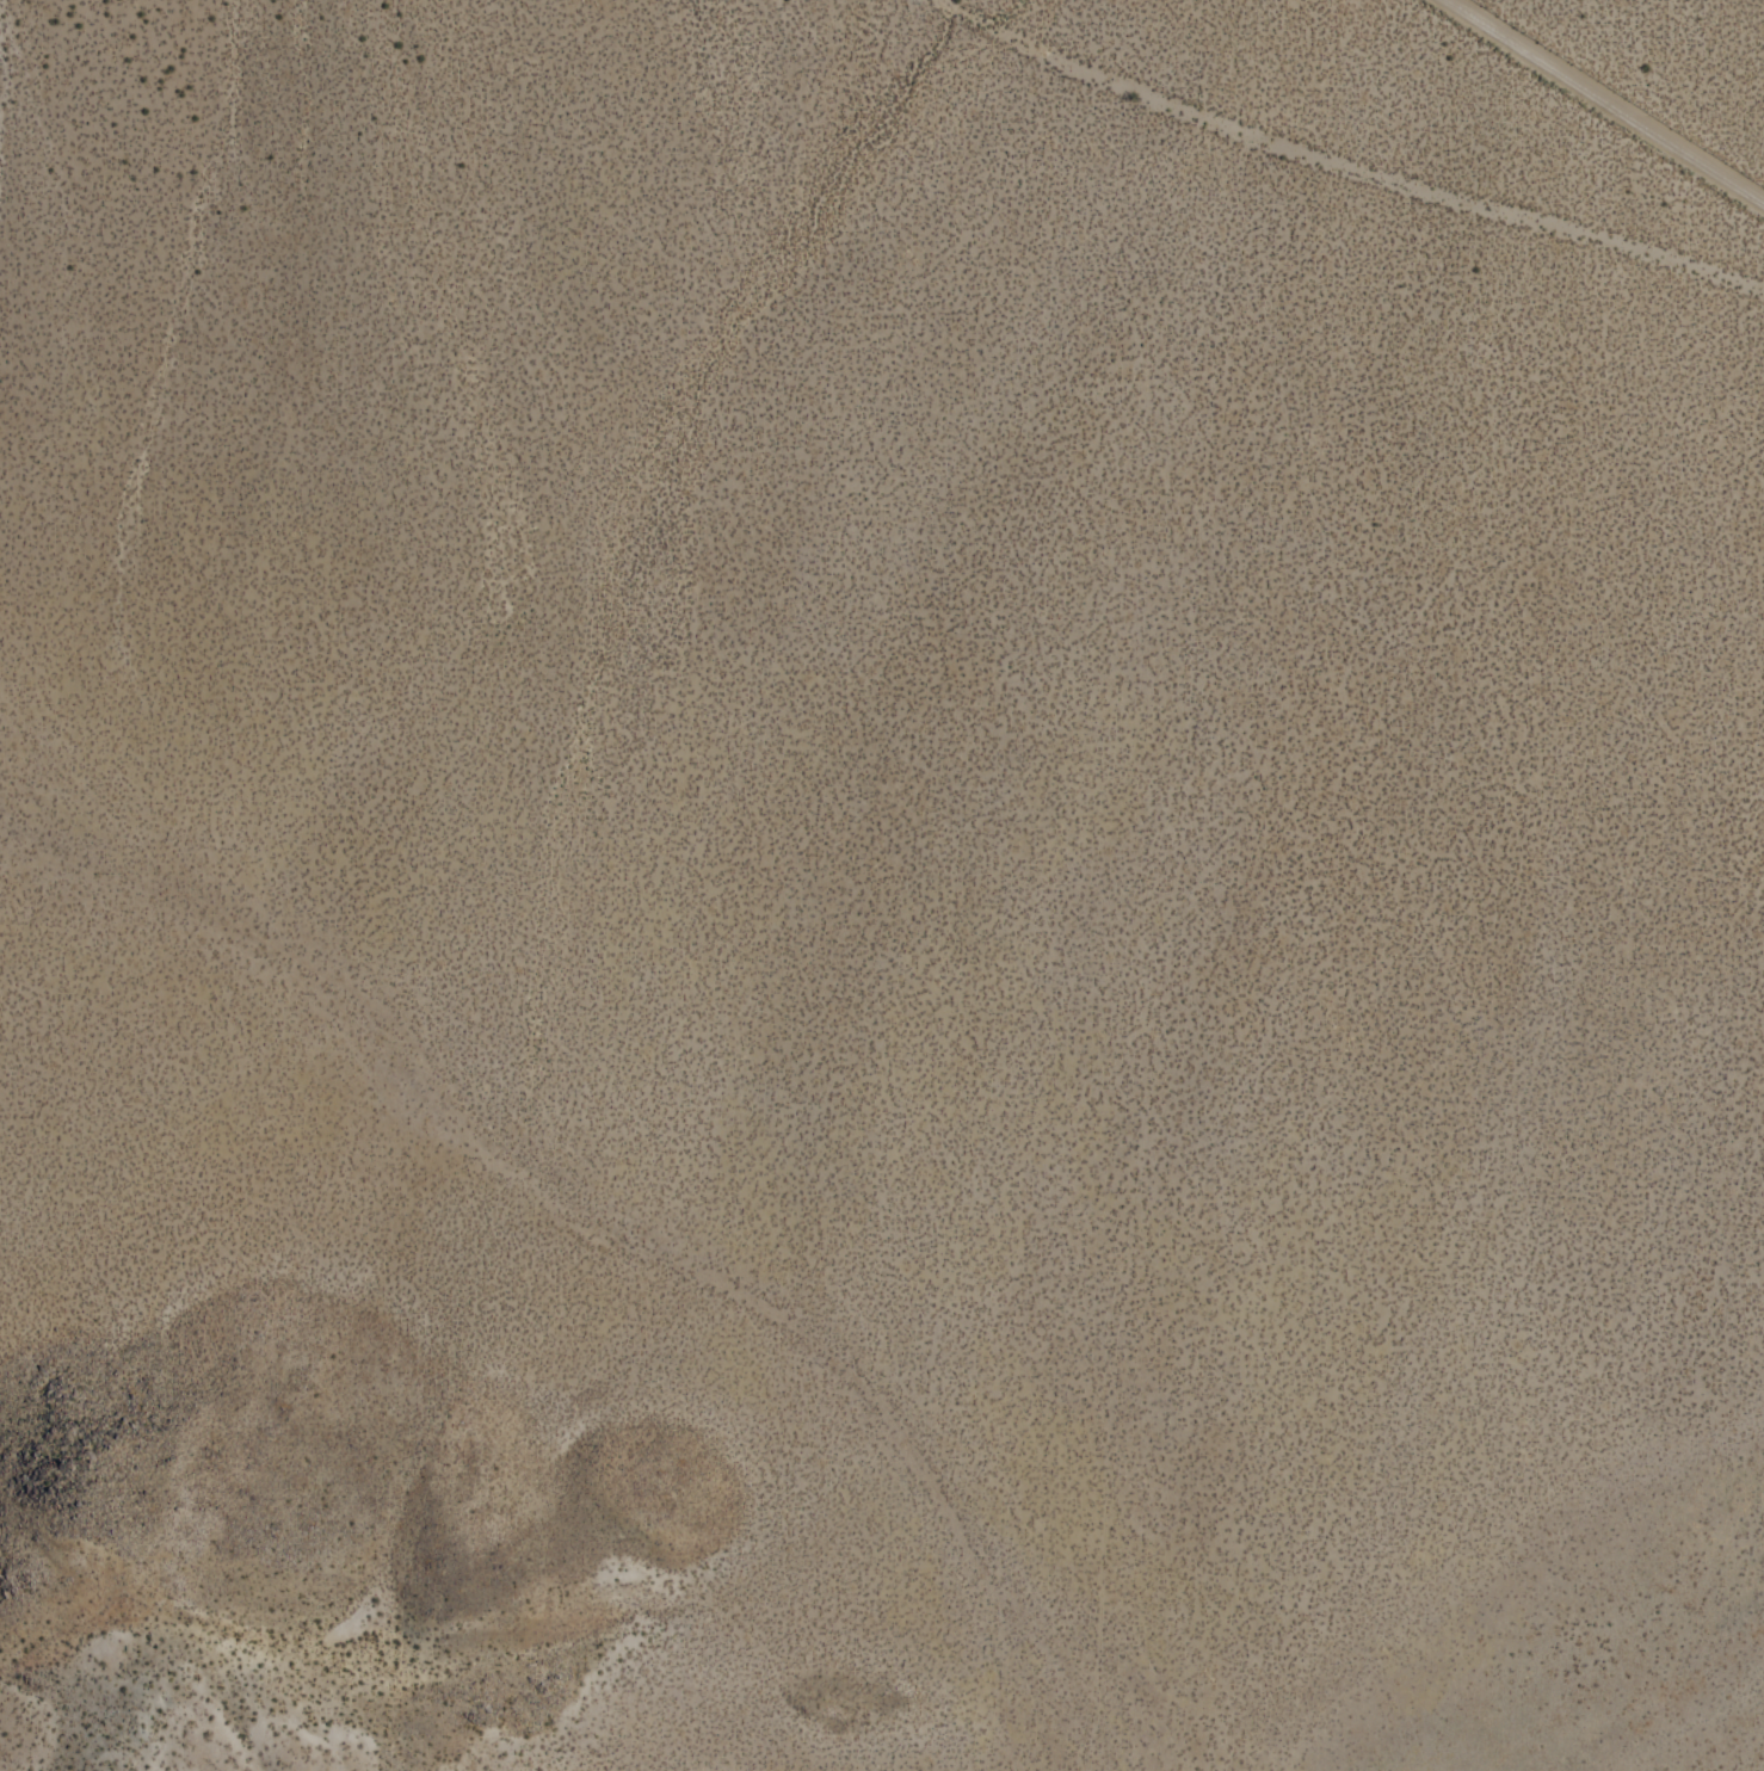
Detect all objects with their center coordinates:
road: (1605, 101)

